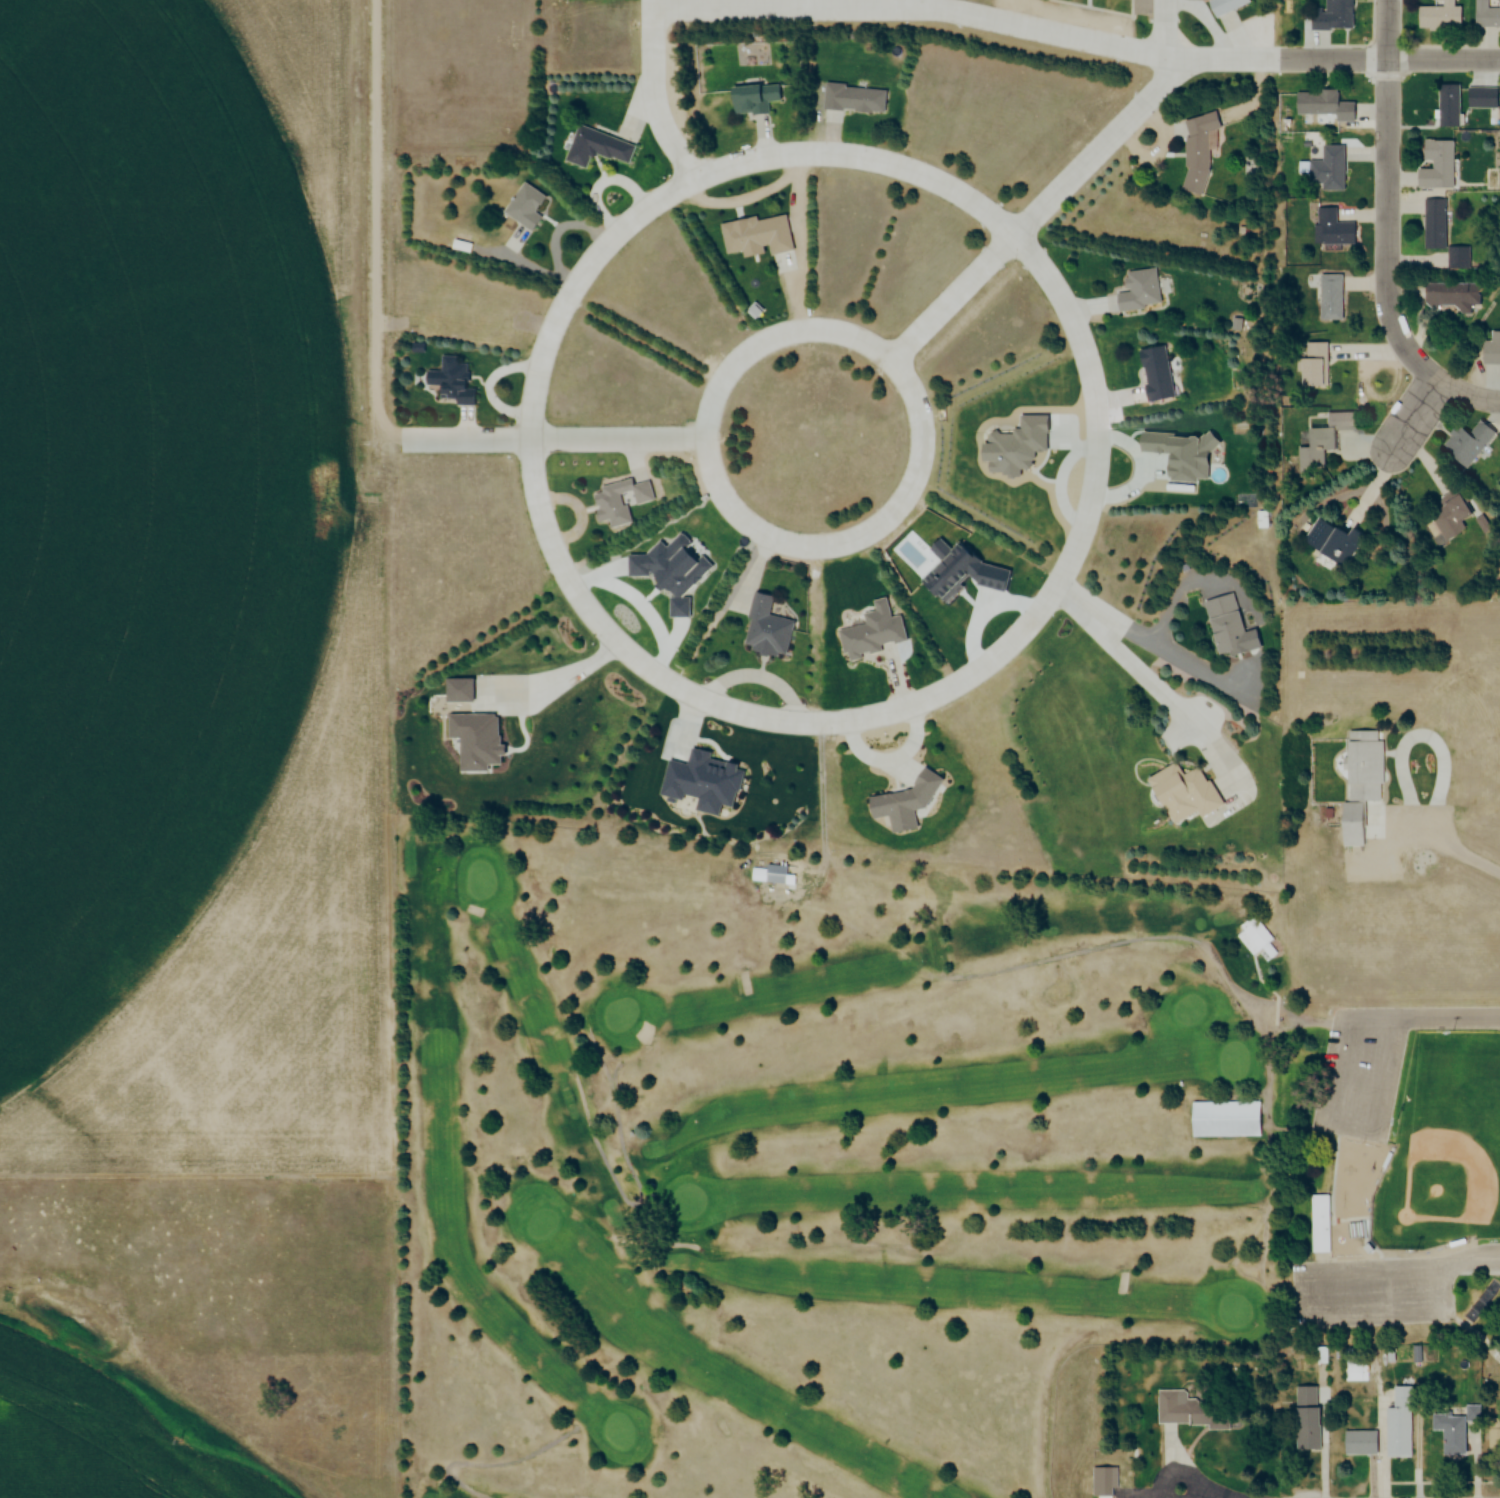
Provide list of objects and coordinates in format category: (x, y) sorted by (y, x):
road: (923, 1)
building: (1224, 6)
building: (1439, 15)
building: (1486, 15)
building: (1331, 16)
road: (1078, 33)
road: (660, 94)
building: (1480, 98)
building: (750, 99)
building: (851, 99)
building: (1322, 105)
building: (1447, 106)
building: (594, 148)
building: (1195, 152)
building: (1436, 165)
building: (1327, 169)
park: (1497, 185)
road: (1057, 190)
building: (524, 207)
building: (1434, 224)
building: (1332, 229)
road: (1388, 230)
building: (754, 237)
road: (378, 238)
building: (462, 247)
building: (1458, 258)
building: (1137, 291)
building: (1451, 296)
building: (1329, 297)
building: (754, 311)
building: (1491, 350)
building: (1312, 366)
building: (1153, 374)
building: (452, 382)
road: (1412, 416)
road: (926, 438)
building: (1323, 438)
road: (570, 439)
building: (1464, 442)
building: (617, 500)
building: (1448, 514)
building: (1328, 541)
building: (766, 629)
building: (1223, 633)
building: (866, 635)
road: (1160, 643)
road: (617, 644)
road: (1153, 677)
building: (473, 741)
building: (1356, 782)
building: (1180, 795)
road: (1442, 844)
building: (776, 874)
building: (1255, 940)
road: (1390, 1019)
park: (1360, 1084)
building: (1223, 1119)
park: (808, 1157)
park: (1389, 1187)
building: (1319, 1223)
road: (1485, 1257)
parking lot: (1373, 1291)
road: (1446, 1313)
building: (1355, 1372)
building: (1179, 1409)
building: (1397, 1425)
building: (1303, 1429)
building: (1448, 1432)
building: (1356, 1444)
building: (1103, 1482)
road: (1212, 1494)

